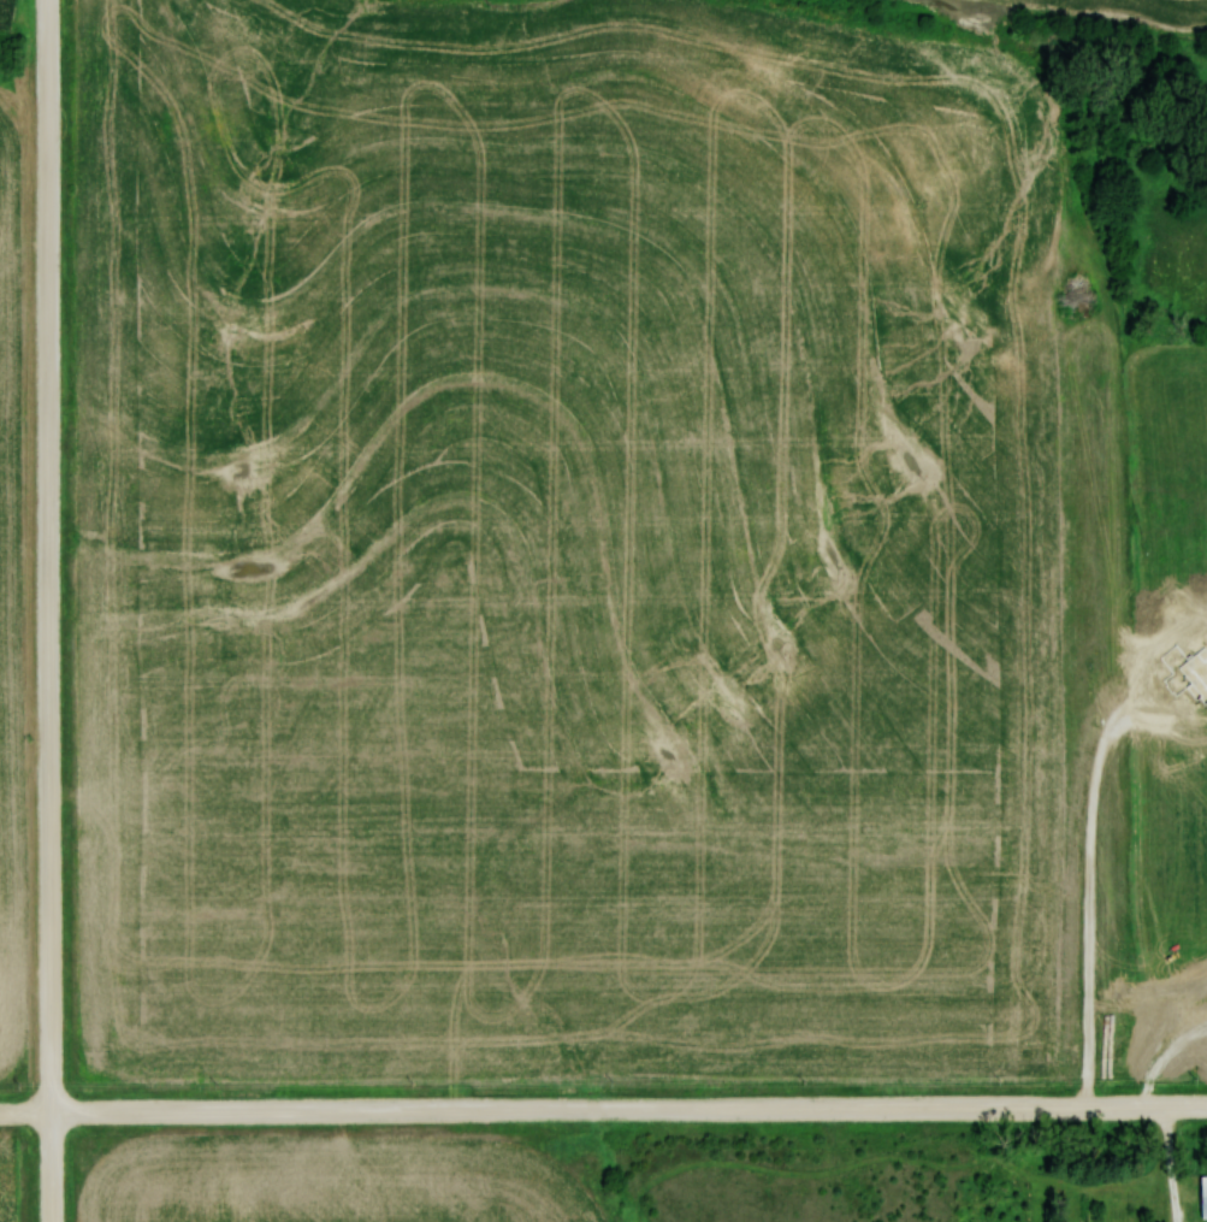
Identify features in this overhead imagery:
road: (48, 610)
road: (603, 1109)
building: (1201, 1196)

